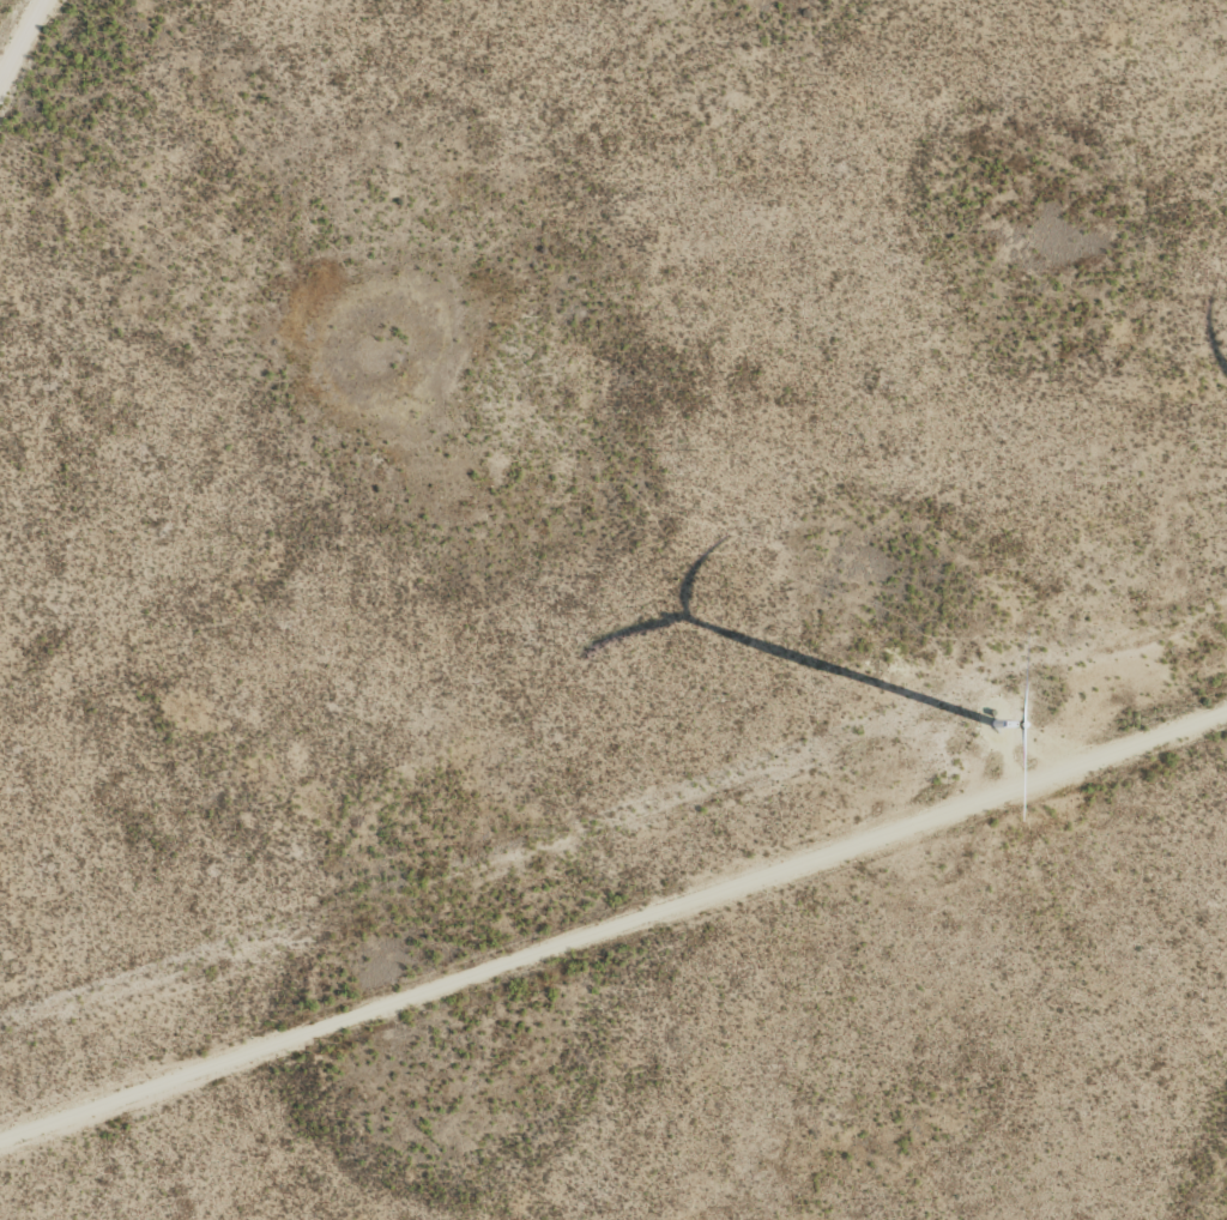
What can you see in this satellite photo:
wind turbine: (995, 713)

